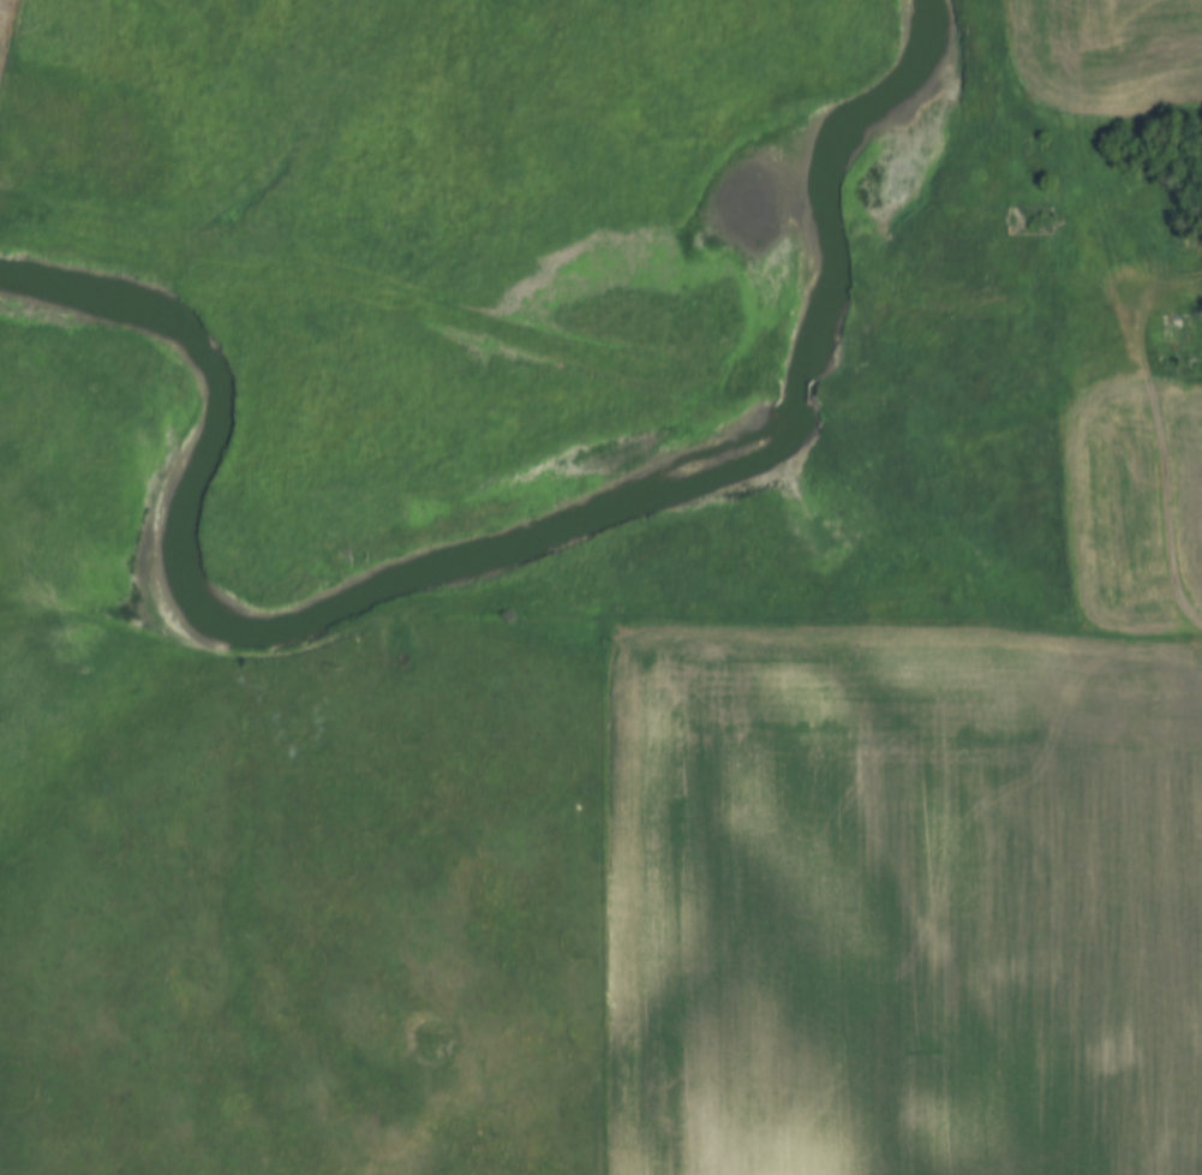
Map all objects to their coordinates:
road: (1178, 482)
river: (522, 525)

